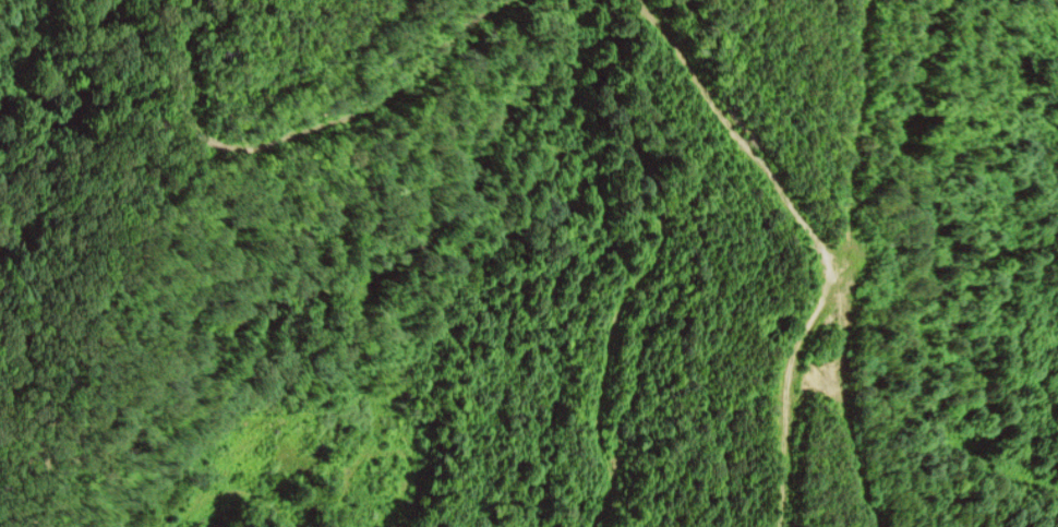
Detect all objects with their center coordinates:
road: (315, 132)
road: (820, 242)

